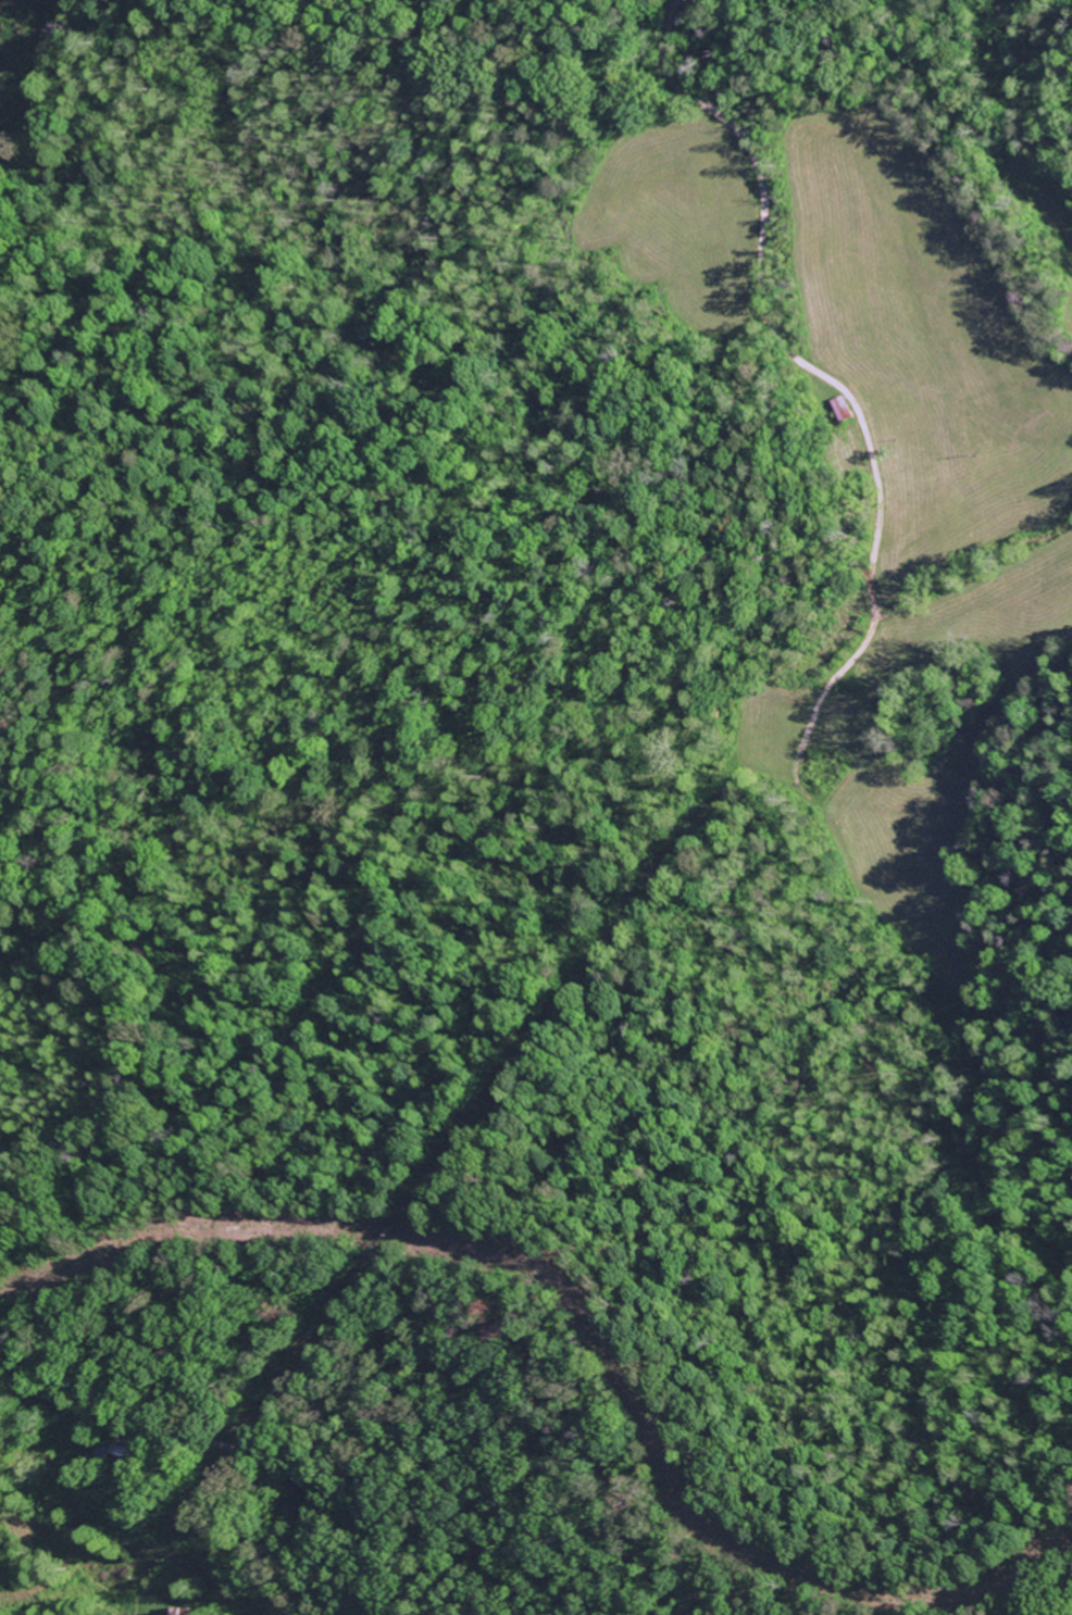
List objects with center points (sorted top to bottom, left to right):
road: (885, 82)
road: (814, 372)
road: (225, 1450)

